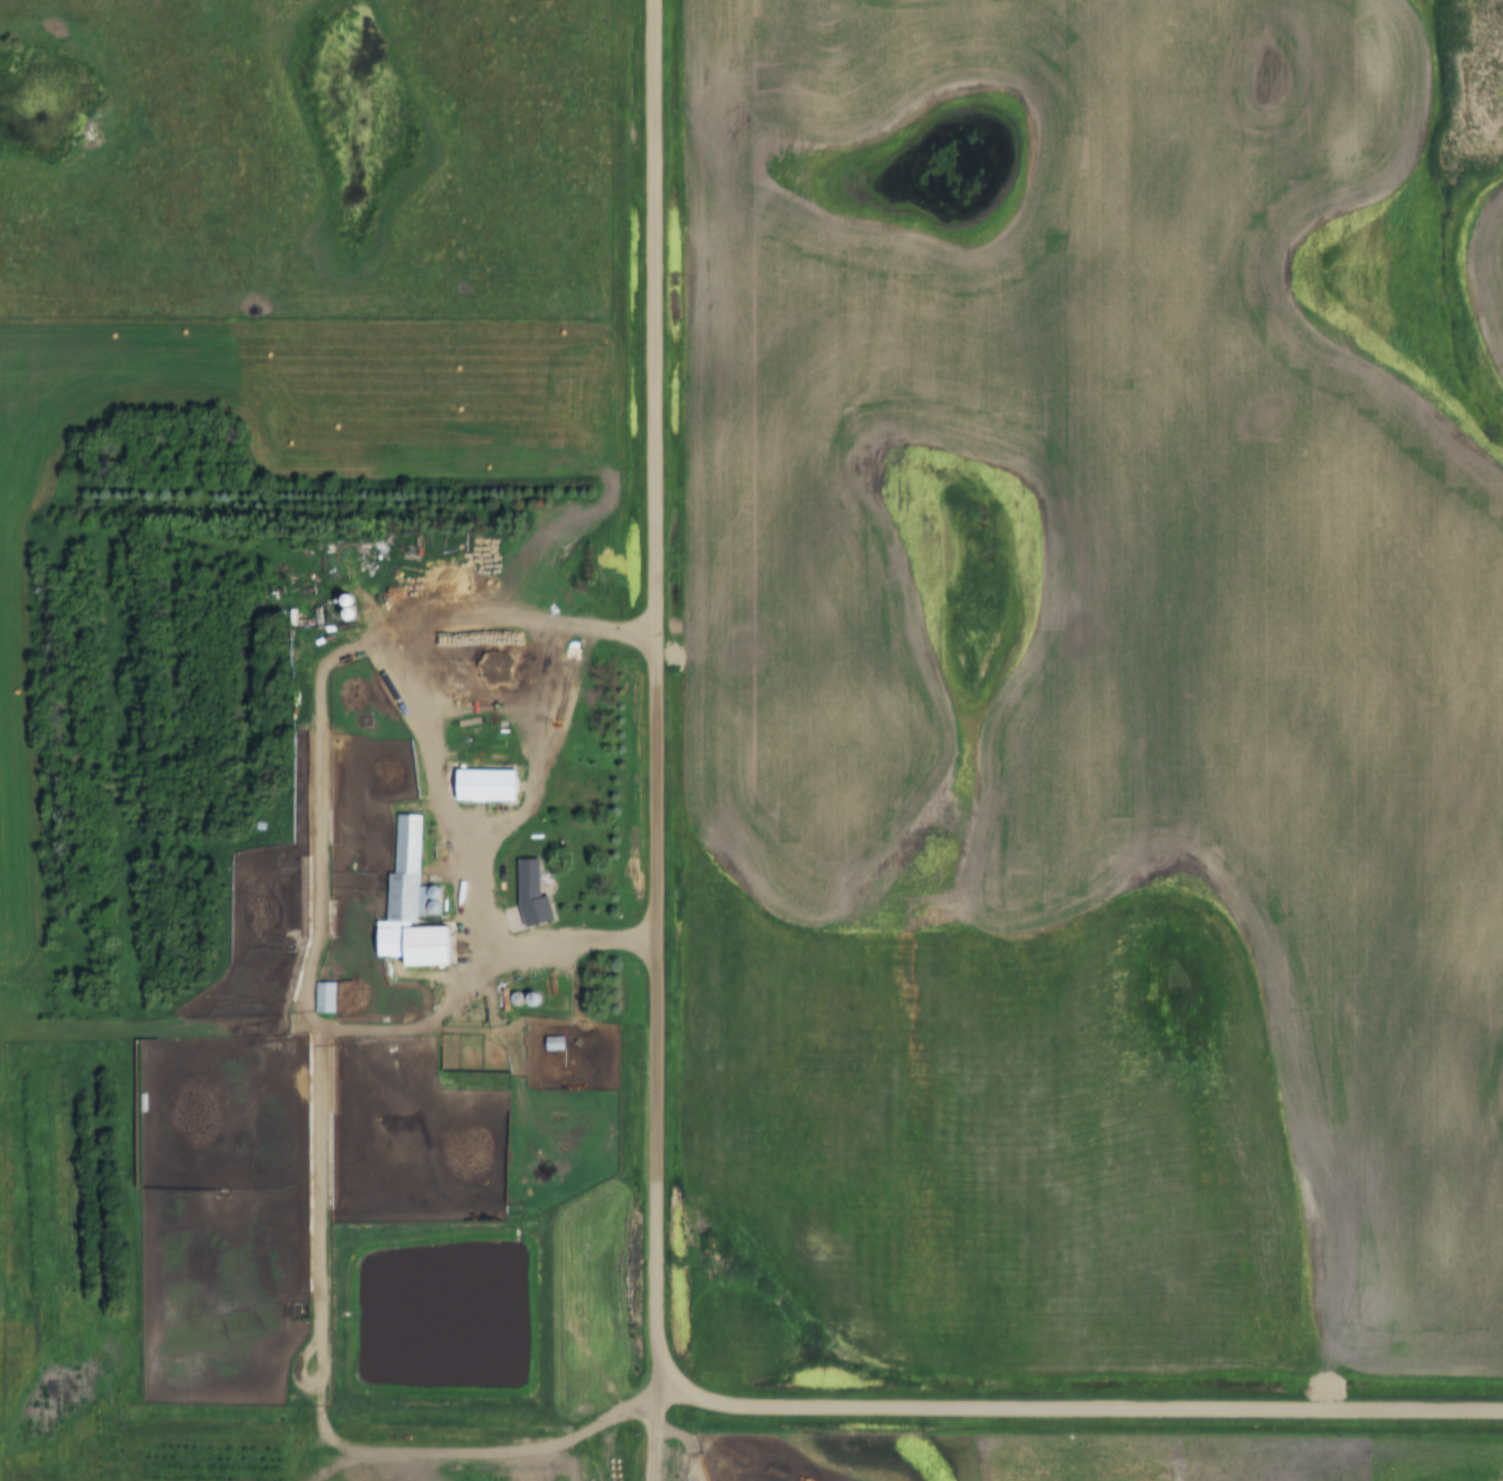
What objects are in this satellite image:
road: (655, 691)
road: (427, 736)
building: (487, 785)
building: (531, 881)
building: (411, 907)
building: (324, 997)
building: (554, 1043)
road: (1087, 1406)
road: (650, 1422)

